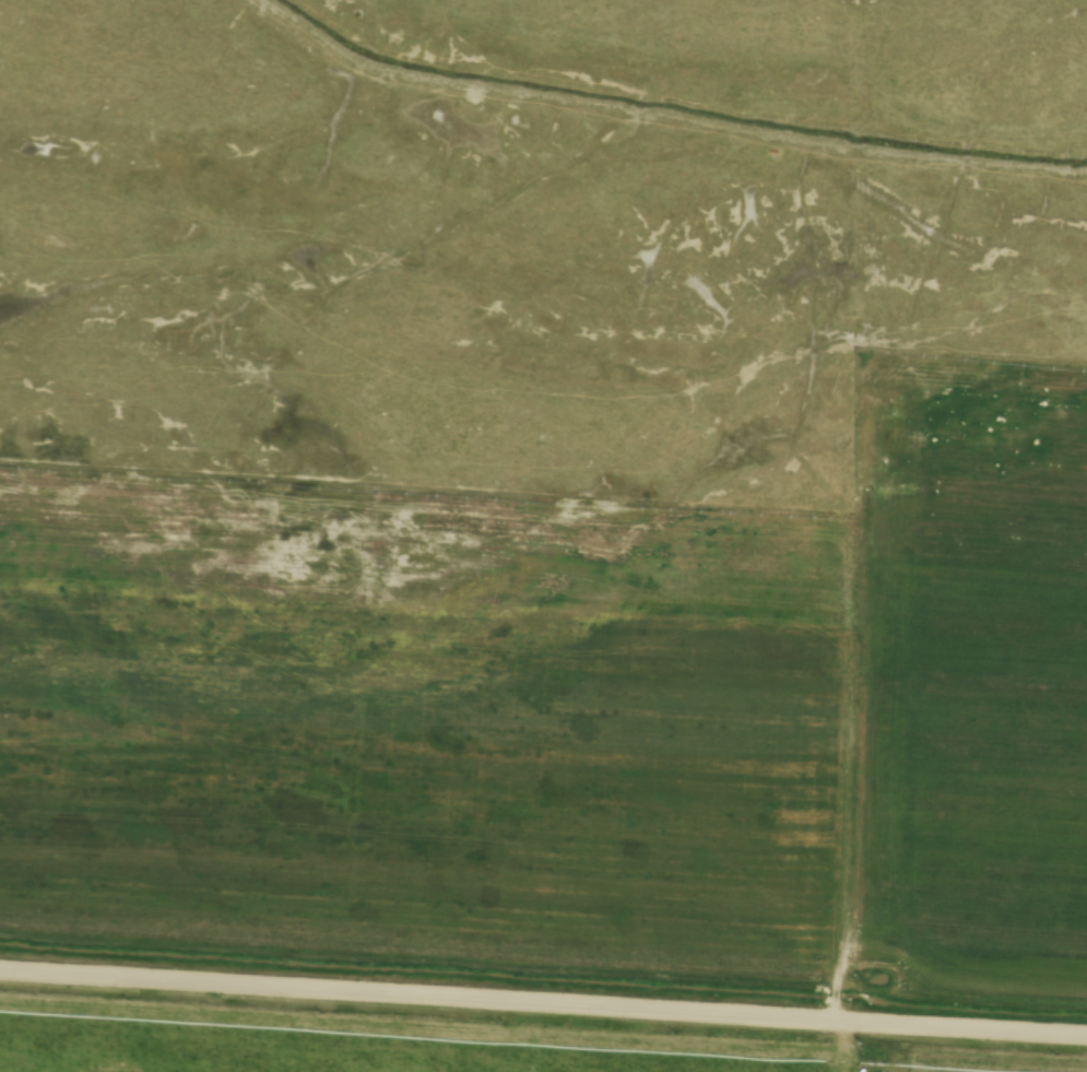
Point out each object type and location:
road: (543, 1008)

